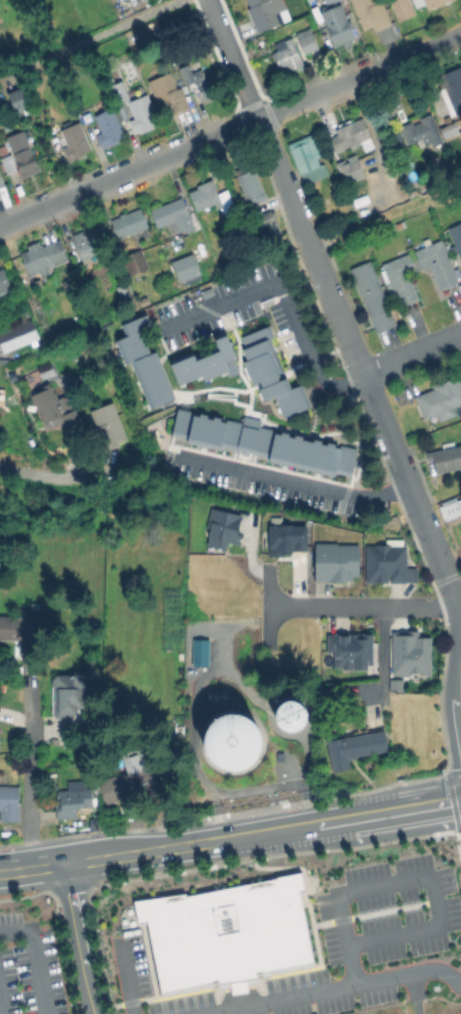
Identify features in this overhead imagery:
building: (1, 0)
building: (329, 1)
building: (435, 3)
building: (402, 10)
building: (267, 15)
building: (371, 16)
building: (338, 26)
road: (95, 37)
building: (306, 43)
road: (232, 60)
building: (285, 60)
building: (198, 84)
building: (452, 90)
building: (119, 91)
building: (168, 92)
building: (19, 100)
building: (144, 113)
building: (109, 129)
building: (449, 129)
building: (420, 130)
road: (231, 131)
building: (459, 133)
building: (354, 134)
building: (459, 137)
building: (72, 143)
building: (20, 155)
building: (304, 157)
building: (351, 169)
building: (2, 180)
building: (251, 185)
road: (284, 186)
building: (212, 198)
building: (174, 215)
road: (386, 219)
building: (130, 223)
building: (92, 238)
building: (454, 238)
building: (459, 256)
building: (44, 258)
building: (135, 262)
building: (436, 264)
building: (186, 266)
building: (401, 279)
building: (4, 283)
building: (124, 293)
road: (282, 296)
building: (373, 297)
building: (143, 300)
building: (16, 334)
road: (411, 354)
building: (146, 361)
building: (202, 363)
building: (273, 379)
building: (442, 399)
building: (55, 409)
building: (182, 423)
building: (105, 426)
building: (209, 429)
road: (386, 432)
building: (249, 436)
building: (305, 453)
building: (348, 459)
building: (446, 459)
road: (37, 474)
road: (292, 480)
road: (438, 491)
building: (449, 507)
building: (219, 528)
building: (283, 536)
building: (338, 562)
building: (391, 565)
road: (364, 606)
building: (20, 624)
building: (352, 651)
building: (202, 653)
road: (380, 653)
building: (414, 655)
building: (399, 686)
building: (67, 694)
road: (455, 696)
building: (289, 715)
water tower: (288, 716)
building: (0, 736)
building: (231, 741)
water tower: (245, 742)
building: (354, 748)
road: (31, 778)
building: (130, 779)
building: (11, 802)
building: (70, 802)
road: (230, 839)
road: (413, 878)
building: (229, 932)
road: (80, 939)
road: (33, 957)
parking lot: (30, 964)
road: (334, 988)

